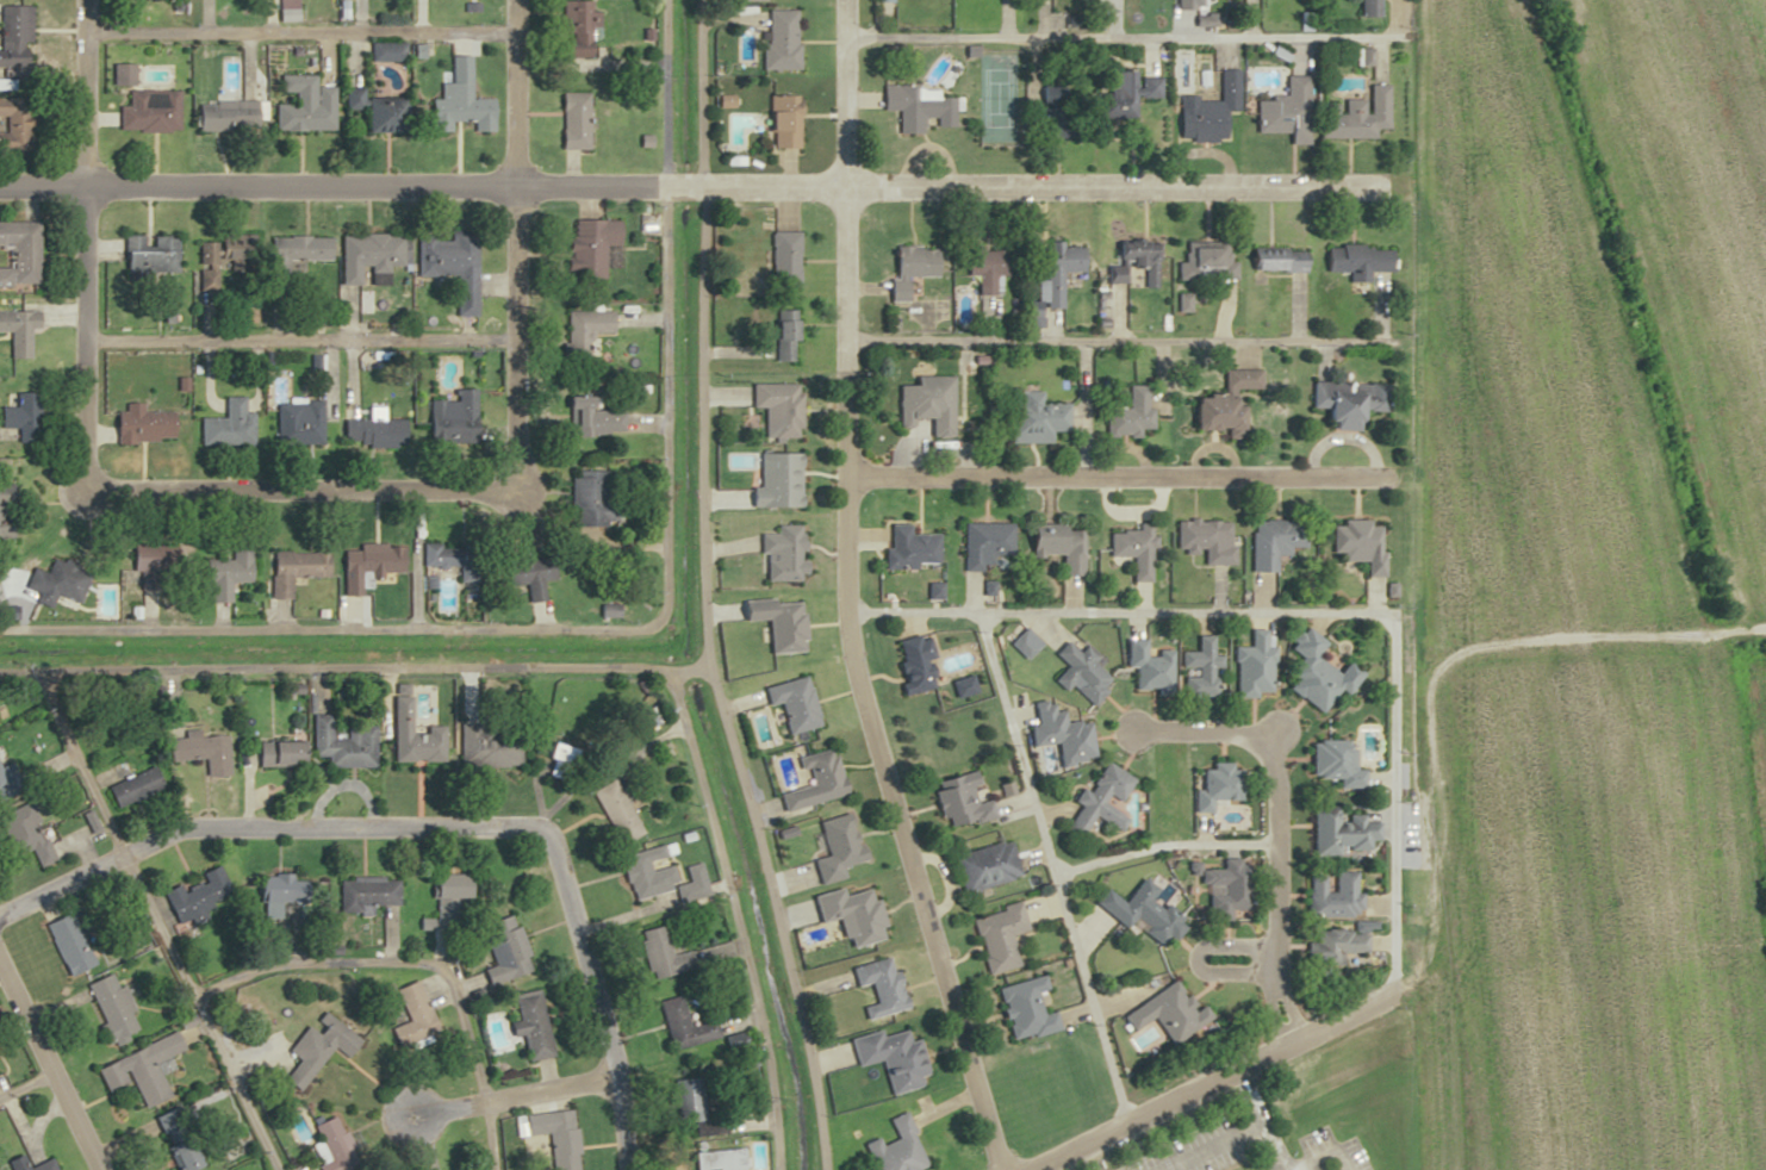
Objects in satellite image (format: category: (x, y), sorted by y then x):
building: (1182, 4)
building: (1366, 8)
building: (572, 30)
road: (299, 31)
building: (13, 36)
road: (1128, 38)
building: (778, 41)
road: (85, 91)
road: (512, 92)
building: (1125, 92)
road: (845, 93)
building: (449, 97)
building: (303, 106)
building: (367, 107)
building: (916, 107)
building: (1206, 110)
building: (1282, 110)
building: (137, 112)
building: (1353, 116)
building: (209, 117)
building: (568, 120)
building: (777, 122)
building: (11, 125)
road: (708, 186)
crop: (1700, 228)
building: (584, 249)
building: (292, 250)
building: (18, 254)
building: (209, 255)
building: (144, 256)
building: (361, 256)
building: (779, 259)
building: (1275, 261)
building: (1354, 261)
building: (1204, 262)
building: (1130, 263)
building: (981, 266)
building: (446, 267)
building: (907, 268)
building: (1049, 279)
road: (664, 318)
road: (699, 318)
building: (584, 324)
building: (15, 332)
building: (782, 335)
road: (298, 336)
road: (1131, 338)
crop: (1526, 365)
building: (1240, 379)
building: (1347, 402)
road: (844, 404)
building: (924, 404)
building: (775, 409)
building: (1128, 413)
building: (1214, 415)
building: (20, 417)
building: (1033, 418)
building: (446, 419)
building: (590, 422)
building: (293, 423)
building: (138, 425)
building: (222, 427)
building: (366, 434)
road: (1369, 477)
building: (772, 481)
road: (304, 486)
building: (586, 498)
building: (5, 512)
building: (1205, 539)
building: (1274, 541)
building: (982, 543)
building: (1360, 543)
building: (908, 547)
building: (1056, 547)
building: (1132, 548)
building: (778, 553)
building: (147, 555)
building: (448, 559)
building: (362, 565)
building: (290, 567)
building: (220, 572)
building: (523, 572)
building: (57, 580)
building: (603, 609)
road: (1142, 615)
road: (321, 628)
road: (1579, 637)
building: (1019, 646)
road: (705, 653)
building: (912, 662)
building: (1254, 666)
building: (1199, 668)
building: (1151, 670)
road: (353, 672)
building: (1078, 672)
building: (1316, 672)
building: (789, 702)
building: (1058, 734)
building: (322, 740)
road: (1016, 745)
building: (195, 749)
road: (244, 749)
building: (481, 749)
building: (408, 752)
building: (269, 754)
building: (1336, 763)
building: (810, 782)
building: (1217, 785)
building: (129, 789)
building: (957, 801)
building: (1099, 801)
building: (610, 811)
road: (437, 823)
road: (1279, 824)
building: (1343, 830)
building: (21, 834)
road: (1165, 847)
building: (832, 848)
building: (982, 865)
building: (641, 872)
road: (1397, 880)
building: (268, 886)
building: (1224, 886)
building: (363, 891)
building: (443, 894)
building: (195, 895)
road: (920, 895)
building: (1333, 895)
crop: (1593, 909)
building: (1139, 911)
building: (846, 914)
road: (735, 917)
road: (775, 917)
building: (995, 936)
building: (1338, 941)
building: (66, 942)
building: (498, 950)
building: (651, 951)
road: (383, 963)
building: (875, 985)
road: (1092, 1000)
building: (1021, 1007)
building: (107, 1008)
building: (410, 1009)
building: (1165, 1010)
road: (197, 1012)
road: (8, 1015)
building: (524, 1025)
building: (678, 1026)
building: (316, 1051)
building: (888, 1058)
building: (135, 1069)
road: (46, 1072)
road: (510, 1097)
building: (680, 1100)
road: (1165, 1106)
road: (1262, 1126)
road: (1154, 1133)
building: (552, 1137)
parking lot: (1316, 1139)
parking lot: (1181, 1143)
building: (330, 1144)
road: (1212, 1146)
building: (893, 1149)
road: (1162, 1151)
road: (1327, 1152)
parking lot: (1356, 1153)
parking lot: (1229, 1157)
road: (1240, 1163)
road: (1276, 1164)
building: (38, 1165)
parking lot: (1330, 1168)

